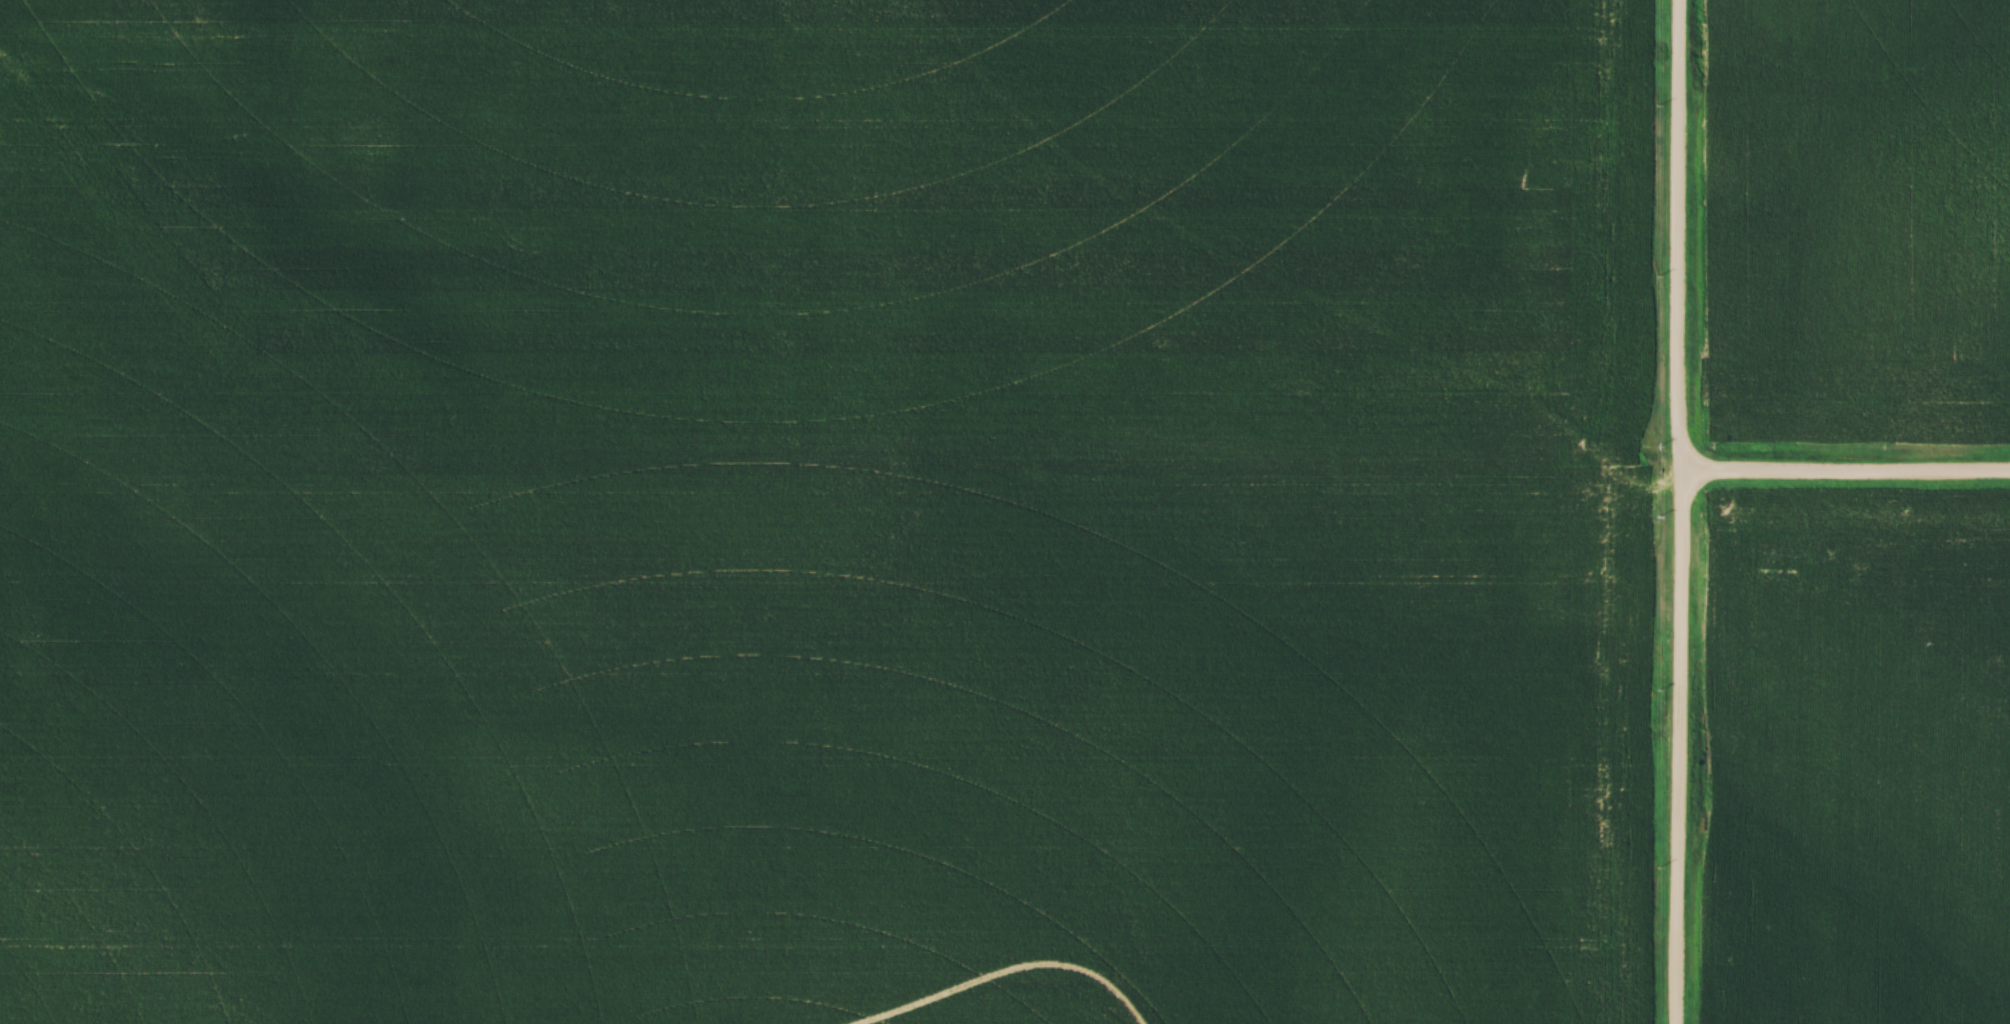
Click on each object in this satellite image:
road: (1680, 237)
road: (1847, 474)
road: (1679, 748)

